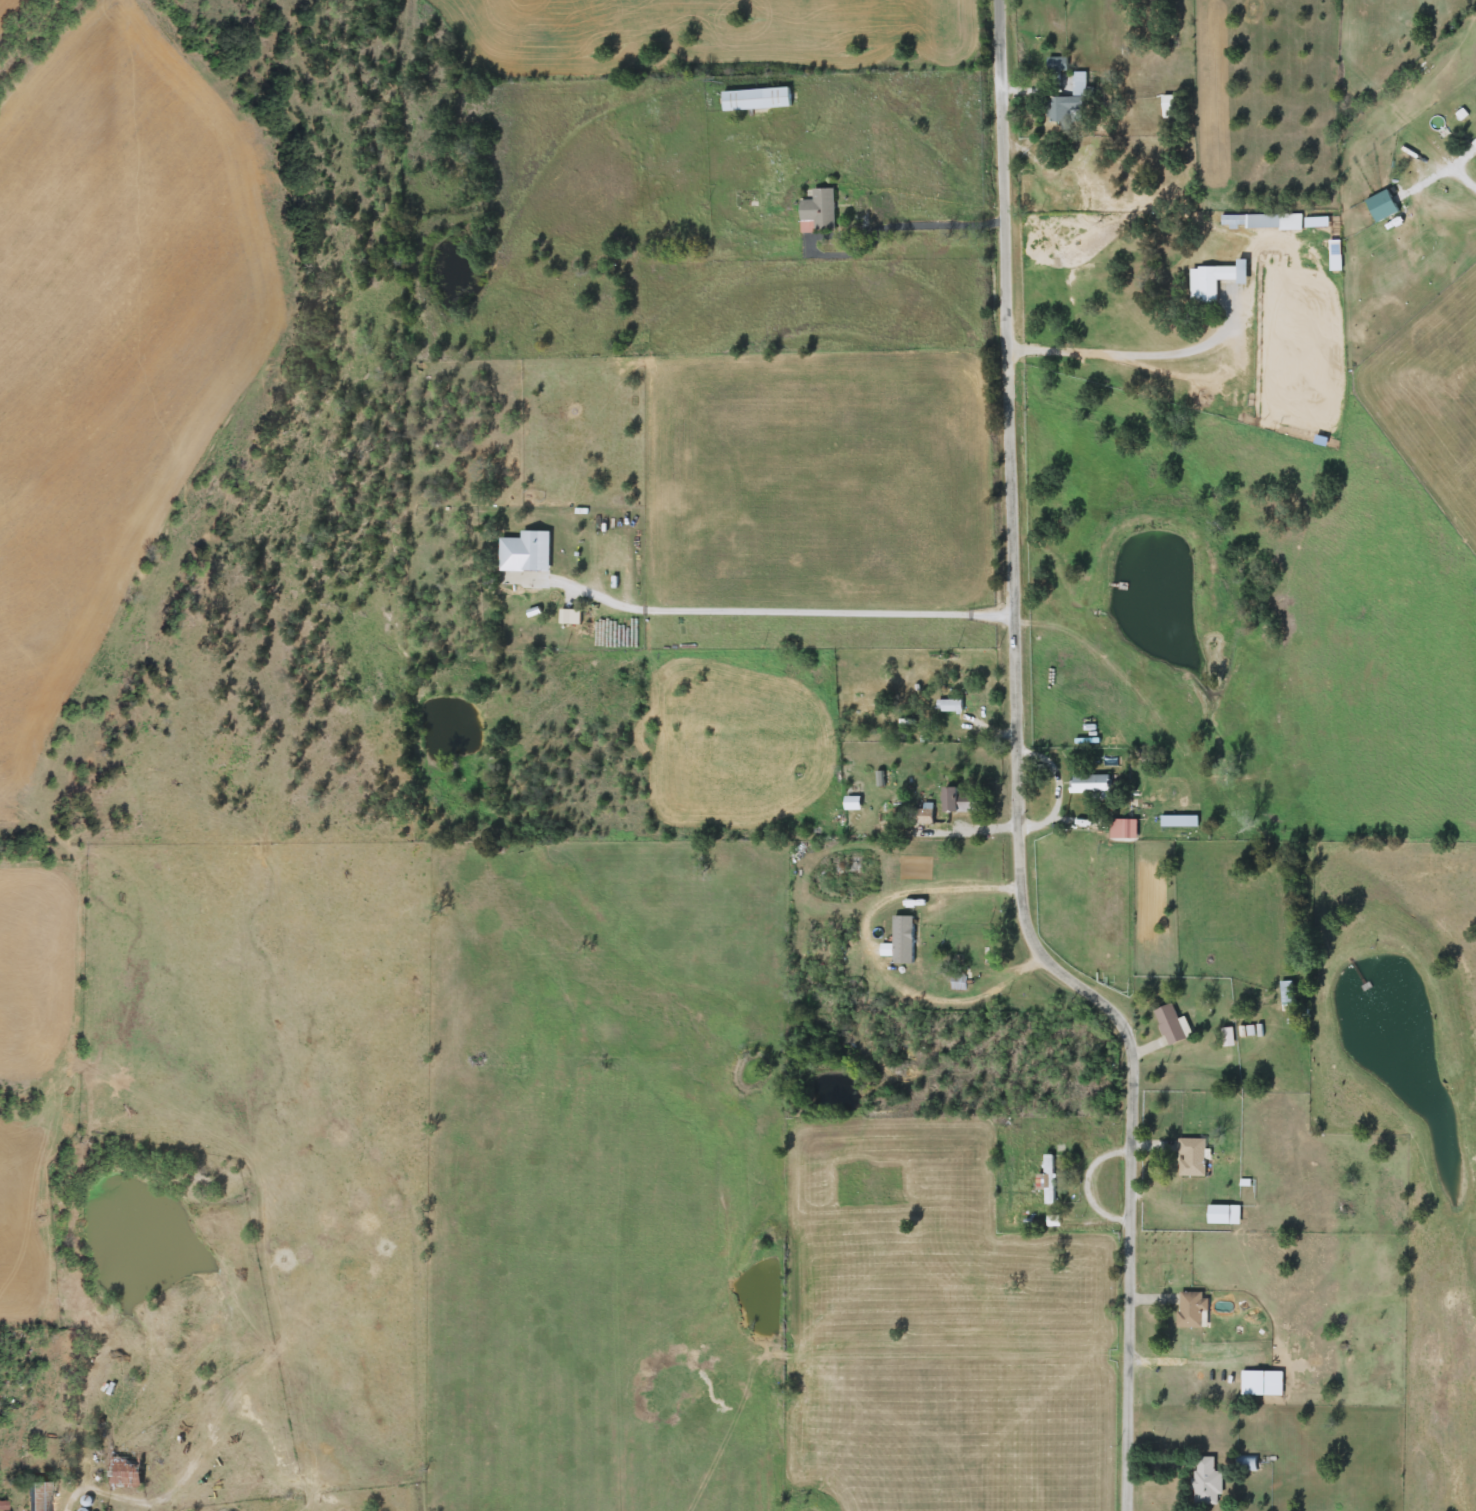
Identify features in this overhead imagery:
building: (1057, 64)
building: (756, 99)
building: (1069, 102)
building: (1170, 107)
building: (1474, 142)
road: (1472, 184)
building: (1381, 206)
building: (817, 211)
road: (530, 215)
road: (964, 219)
building: (1261, 222)
building: (1214, 280)
road: (1160, 355)
building: (1319, 440)
building: (525, 552)
road: (783, 613)
building: (565, 616)
building: (949, 706)
road: (1014, 778)
building: (1089, 783)
building: (957, 800)
building: (852, 803)
building: (1123, 829)
building: (900, 941)
road: (871, 947)
building: (1287, 996)
building: (1169, 1025)
building: (1191, 1157)
building: (1047, 1179)
building: (1223, 1215)
building: (1191, 1309)
building: (1252, 1383)
road: (1156, 1455)
building: (1247, 1463)
building: (1204, 1480)
building: (36, 1497)
building: (3, 1506)

